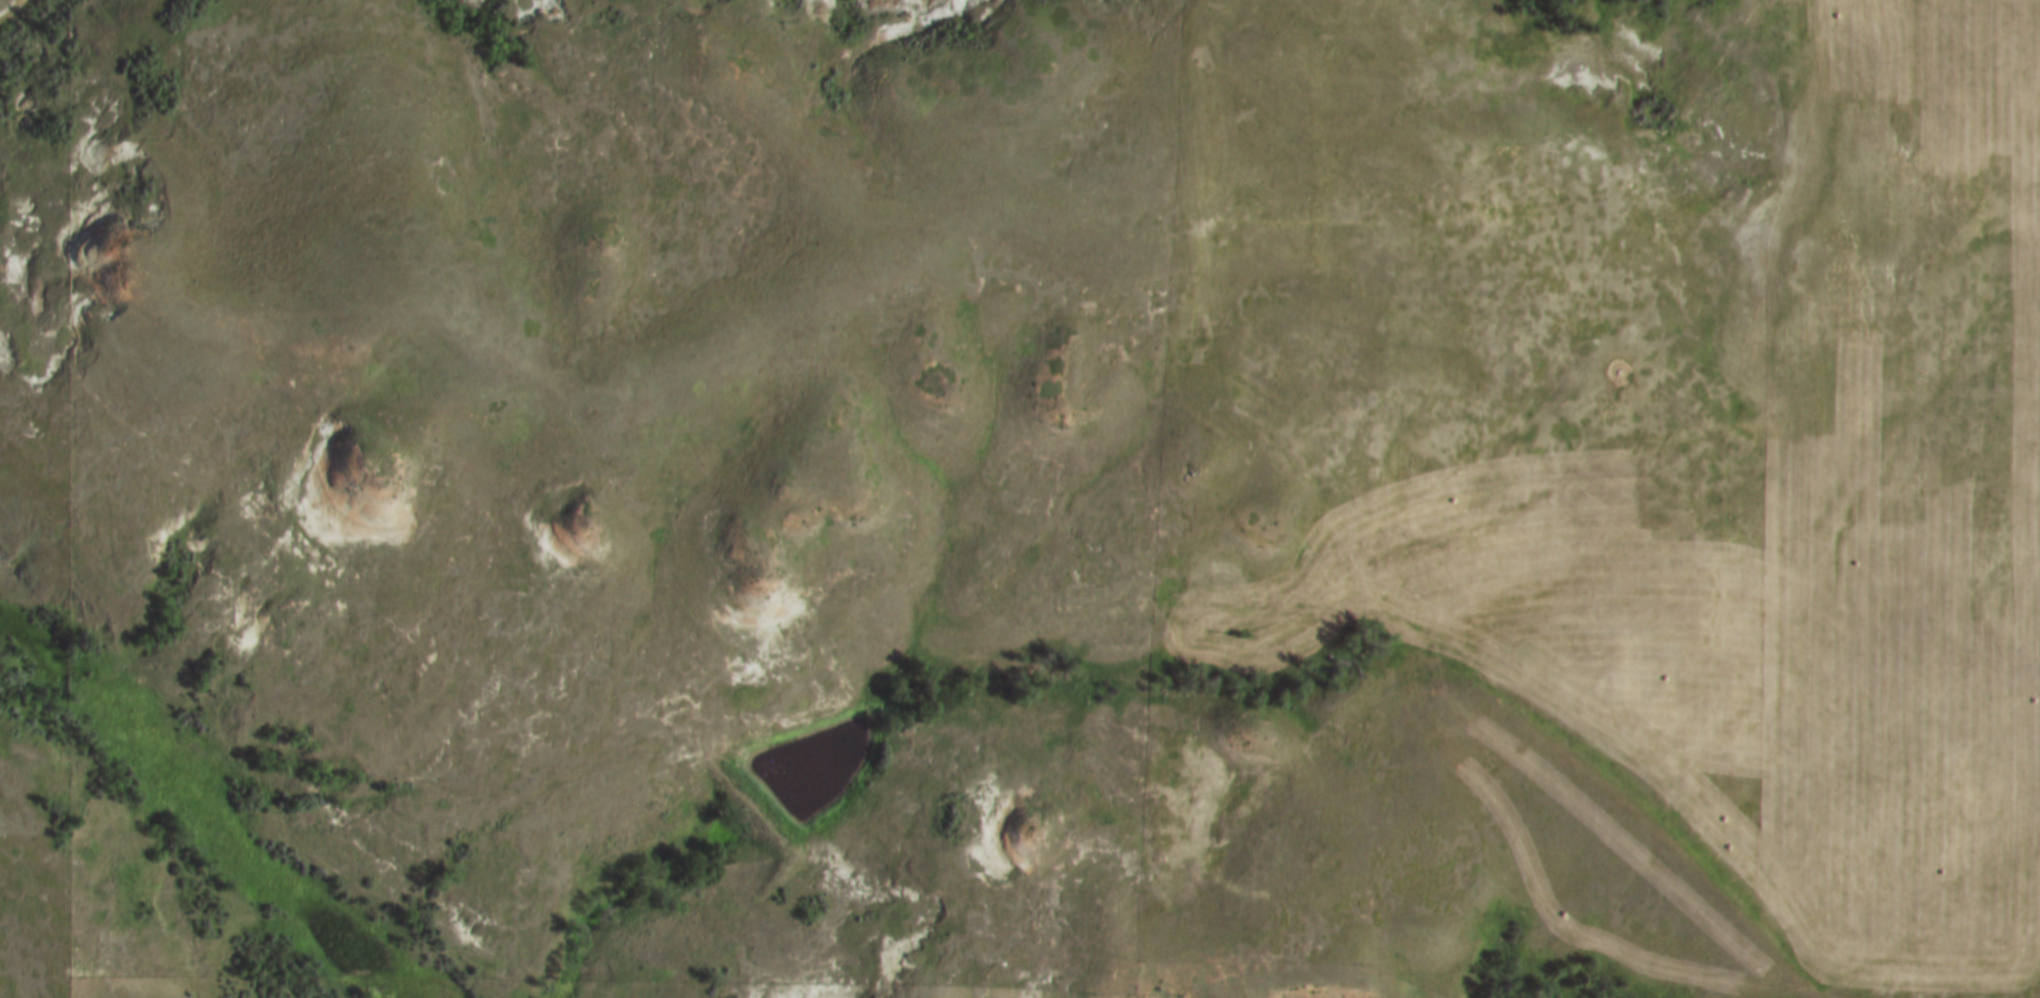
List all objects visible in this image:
road: (1779, 123)

